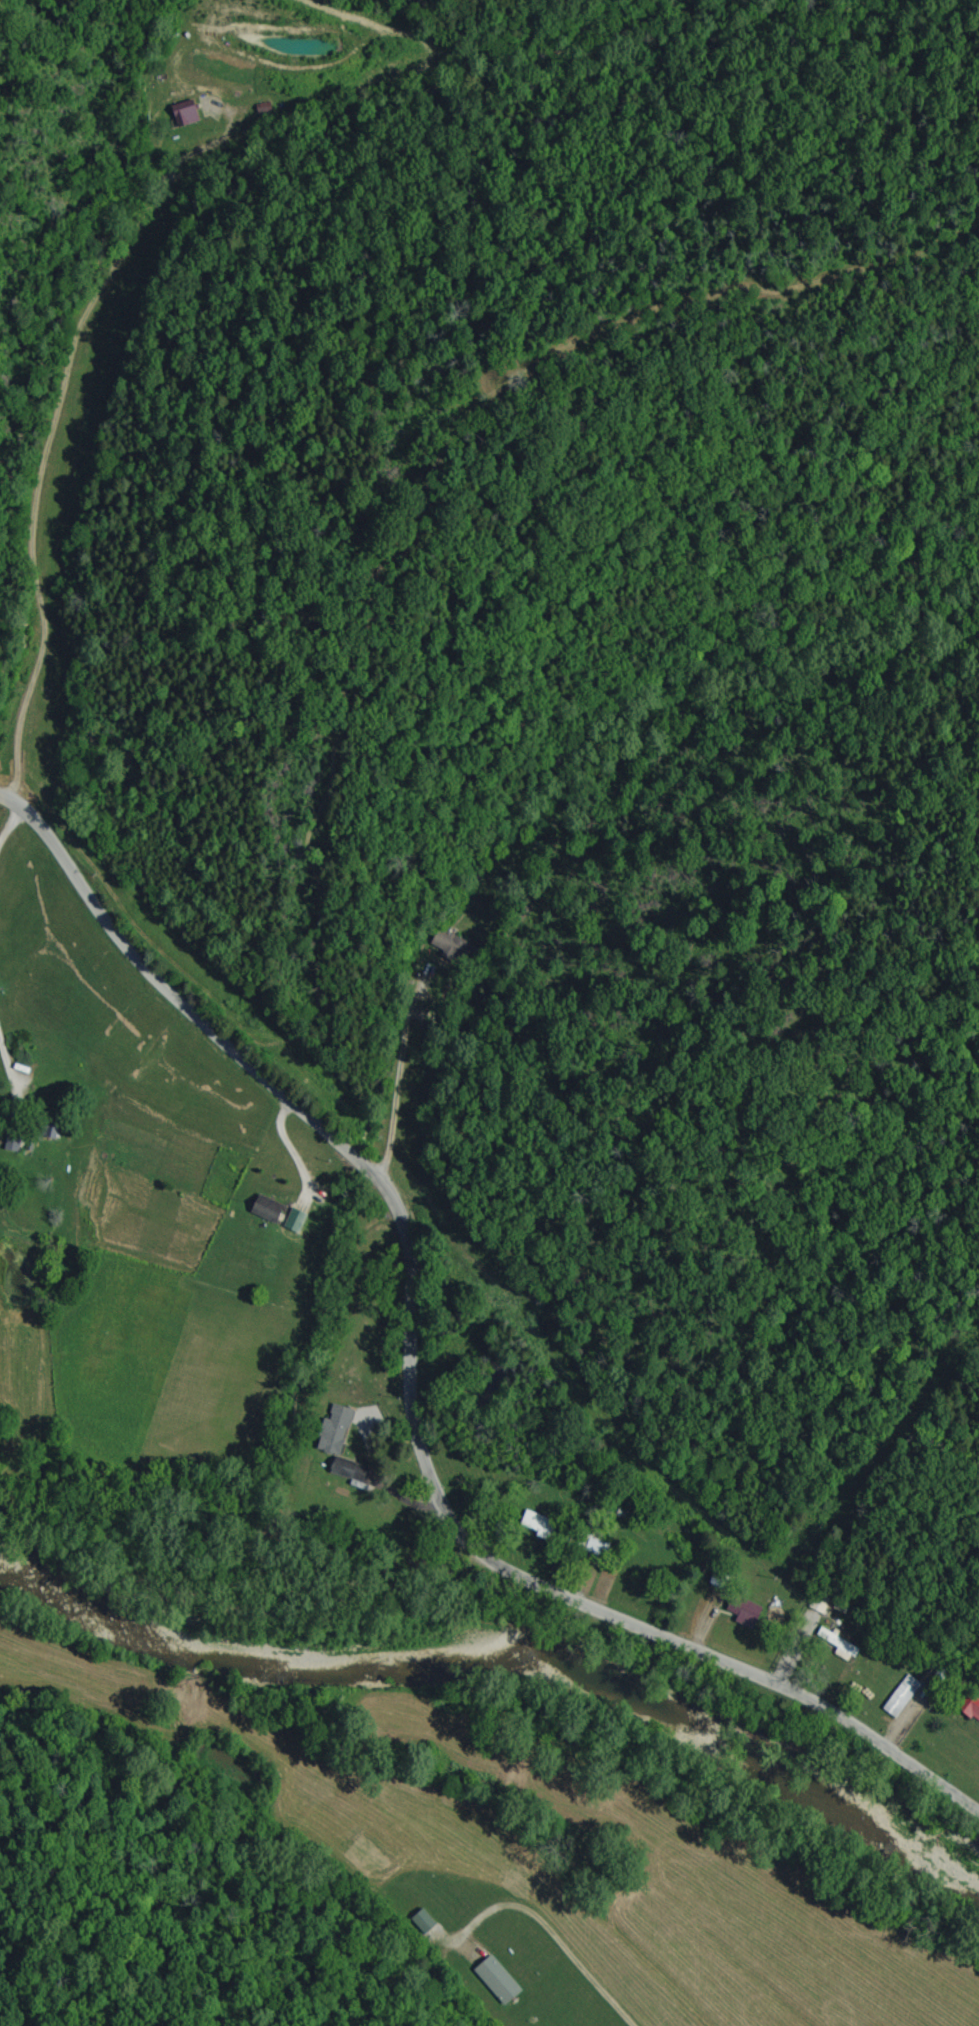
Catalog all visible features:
building: (185, 114)
road: (66, 447)
road: (12, 844)
building: (447, 947)
road: (9, 1057)
road: (317, 1184)
building: (267, 1210)
building: (295, 1221)
road: (417, 1386)
building: (335, 1430)
building: (347, 1470)
building: (743, 1612)
river: (508, 1660)
building: (899, 1696)
building: (969, 1707)
building: (422, 1922)
building: (496, 1981)
road: (443, 1991)

